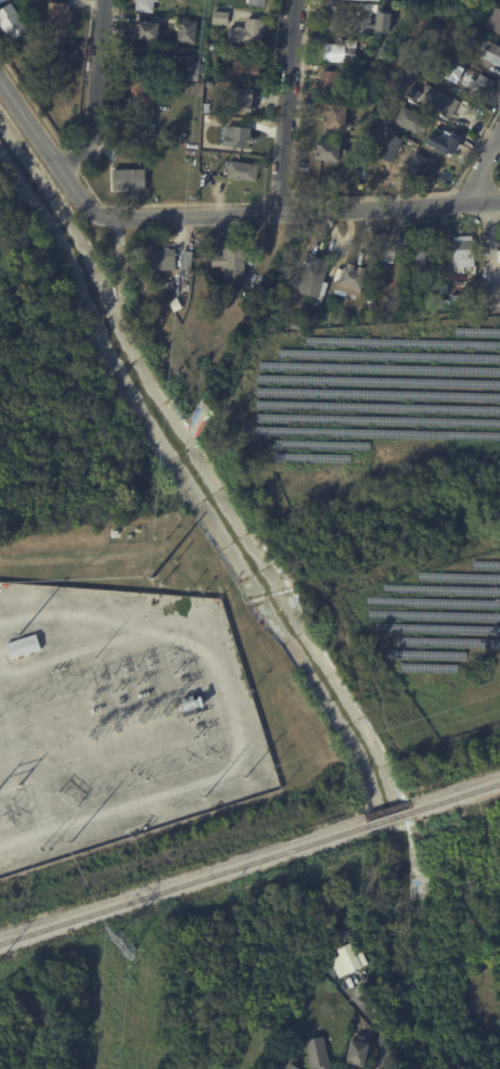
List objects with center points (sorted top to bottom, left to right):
building: (0, 0)
building: (495, 0)
building: (368, 1)
building: (260, 3)
building: (148, 5)
building: (59, 13)
building: (458, 14)
building: (221, 18)
building: (12, 20)
building: (338, 20)
building: (495, 21)
building: (397, 22)
building: (151, 33)
building: (189, 33)
building: (249, 34)
building: (215, 48)
building: (342, 50)
building: (492, 53)
building: (387, 54)
building: (153, 63)
building: (194, 71)
building: (248, 72)
building: (210, 84)
building: (331, 84)
building: (484, 86)
building: (366, 88)
road: (97, 90)
building: (145, 94)
building: (439, 100)
building: (245, 101)
road: (286, 106)
building: (364, 107)
building: (338, 119)
building: (412, 122)
building: (241, 139)
building: (441, 142)
building: (428, 147)
road: (49, 148)
building: (331, 152)
building: (419, 160)
road: (482, 168)
building: (245, 173)
building: (374, 176)
power tower: (192, 198)
road: (299, 212)
road: (491, 253)
building: (466, 254)
building: (388, 255)
building: (422, 255)
building: (207, 258)
building: (164, 260)
building: (189, 260)
building: (11, 262)
building: (234, 265)
building: (386, 272)
building: (317, 280)
building: (352, 281)
building: (169, 287)
building: (461, 301)
building: (371, 305)
building: (178, 306)
power tower: (176, 372)
solar farm: (366, 405)
solar farm: (439, 638)
building: (24, 645)
power substation: (117, 718)
railway: (454, 787)
railway: (457, 796)
railway: (387, 809)
railway: (390, 816)
railway: (182, 874)
road: (474, 878)
railway: (183, 882)
power tower: (121, 942)
building: (359, 1052)
building: (320, 1053)
building: (291, 1064)

